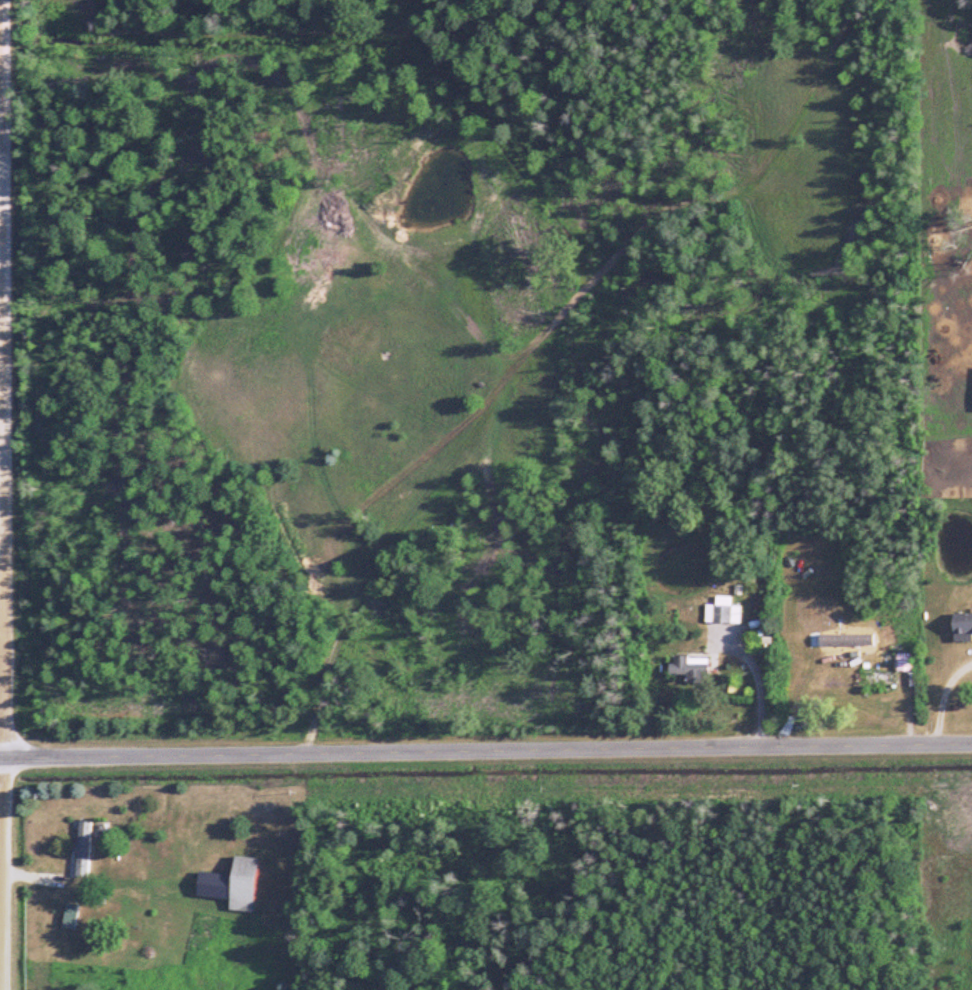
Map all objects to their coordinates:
road: (5, 494)
building: (722, 611)
building: (961, 624)
building: (904, 656)
building: (688, 665)
building: (875, 678)
road: (944, 696)
road: (485, 747)
building: (84, 849)
building: (230, 884)
building: (69, 916)

